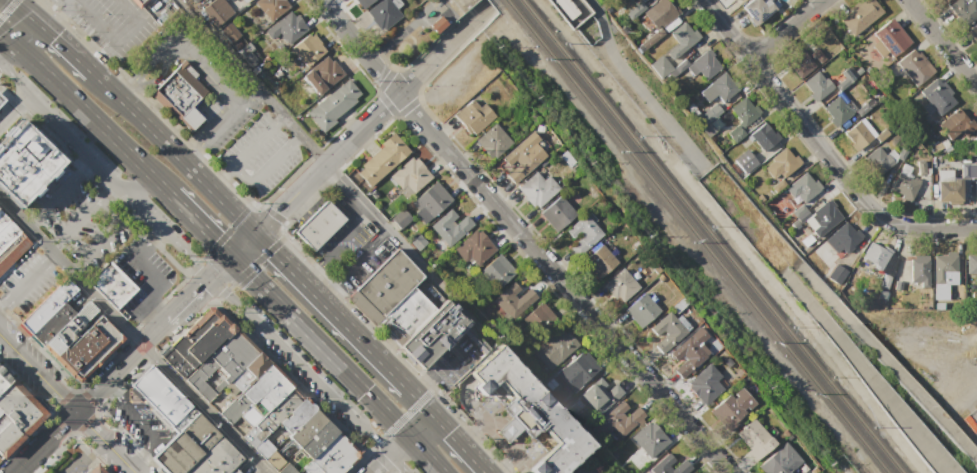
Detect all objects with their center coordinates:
building: (194, 0)
building: (248, 0)
building: (641, 0)
building: (943, 0)
building: (363, 2)
building: (138, 3)
building: (271, 7)
road: (7, 8)
building: (636, 9)
building: (663, 9)
road: (132, 10)
building: (217, 11)
building: (570, 11)
building: (754, 11)
building: (962, 11)
road: (30, 13)
road: (58, 13)
building: (382, 13)
building: (859, 15)
building: (436, 24)
road: (785, 29)
building: (285, 30)
building: (587, 30)
road: (26, 32)
road: (108, 32)
building: (229, 32)
building: (973, 33)
road: (3, 35)
building: (891, 37)
building: (651, 38)
building: (681, 38)
road: (222, 40)
road: (3, 41)
road: (175, 41)
road: (942, 42)
building: (307, 48)
road: (69, 49)
building: (817, 55)
building: (798, 62)
building: (705, 64)
building: (660, 66)
building: (916, 66)
building: (322, 74)
building: (816, 85)
road: (636, 87)
building: (720, 88)
building: (179, 95)
building: (938, 96)
building: (0, 99)
road: (268, 99)
road: (11, 102)
road: (387, 102)
building: (333, 103)
building: (837, 109)
building: (743, 111)
road: (90, 114)
road: (47, 115)
building: (472, 116)
road: (373, 118)
road: (213, 121)
building: (708, 122)
building: (953, 123)
building: (736, 134)
building: (859, 134)
building: (882, 135)
building: (763, 136)
road: (256, 141)
building: (492, 141)
road: (165, 145)
road: (820, 147)
road: (186, 149)
building: (901, 153)
building: (522, 157)
building: (380, 159)
building: (877, 160)
building: (745, 161)
building: (24, 163)
building: (781, 164)
road: (267, 168)
building: (968, 170)
building: (410, 176)
road: (220, 178)
road: (143, 185)
building: (805, 186)
building: (904, 186)
building: (537, 188)
building: (947, 189)
road: (56, 190)
building: (429, 202)
road: (135, 203)
road: (364, 204)
park: (778, 205)
building: (556, 213)
building: (799, 213)
road: (79, 214)
building: (400, 218)
building: (822, 219)
building: (451, 224)
road: (202, 225)
road: (247, 225)
building: (318, 225)
building: (582, 232)
traffic signals: (255, 233)
road: (342, 236)
railway: (697, 236)
railway: (712, 236)
road: (102, 237)
road: (523, 238)
road: (144, 239)
building: (842, 239)
road: (263, 241)
building: (417, 242)
building: (10, 243)
road: (220, 243)
road: (177, 245)
road: (243, 245)
building: (473, 248)
road: (360, 255)
building: (875, 255)
traffic signals: (232, 257)
building: (598, 261)
building: (888, 263)
building: (944, 263)
building: (971, 263)
road: (221, 267)
building: (918, 268)
road: (248, 271)
road: (308, 271)
building: (496, 272)
building: (836, 273)
road: (26, 278)
road: (211, 279)
road: (154, 281)
building: (388, 281)
building: (885, 282)
building: (110, 284)
building: (620, 286)
building: (896, 287)
road: (327, 291)
building: (515, 297)
road: (183, 305)
building: (641, 310)
building: (404, 316)
building: (539, 319)
road: (146, 321)
road: (345, 323)
building: (68, 331)
building: (665, 332)
building: (433, 333)
road: (133, 336)
building: (197, 342)
road: (320, 346)
building: (555, 347)
building: (689, 352)
road: (448, 359)
building: (221, 365)
road: (301, 365)
building: (888, 365)
building: (249, 371)
building: (578, 371)
road: (115, 372)
road: (37, 373)
building: (871, 380)
building: (706, 384)
road: (422, 385)
building: (601, 393)
building: (158, 395)
building: (257, 396)
road: (425, 405)
building: (281, 406)
building: (732, 408)
building: (531, 412)
building: (15, 413)
building: (295, 416)
traffic signals: (393, 420)
road: (398, 420)
building: (617, 421)
road: (141, 424)
road: (420, 424)
road: (508, 425)
traffic signals: (448, 430)
road: (497, 437)
building: (754, 438)
building: (649, 439)
road: (43, 442)
road: (105, 442)
road: (458, 442)
building: (321, 446)
building: (263, 447)
building: (195, 450)
road: (389, 454)
road: (425, 454)
road: (392, 456)
road: (83, 458)
building: (273, 461)
building: (780, 461)
building: (670, 463)
road: (23, 469)
building: (286, 469)
road: (584, 469)
building: (94, 470)

